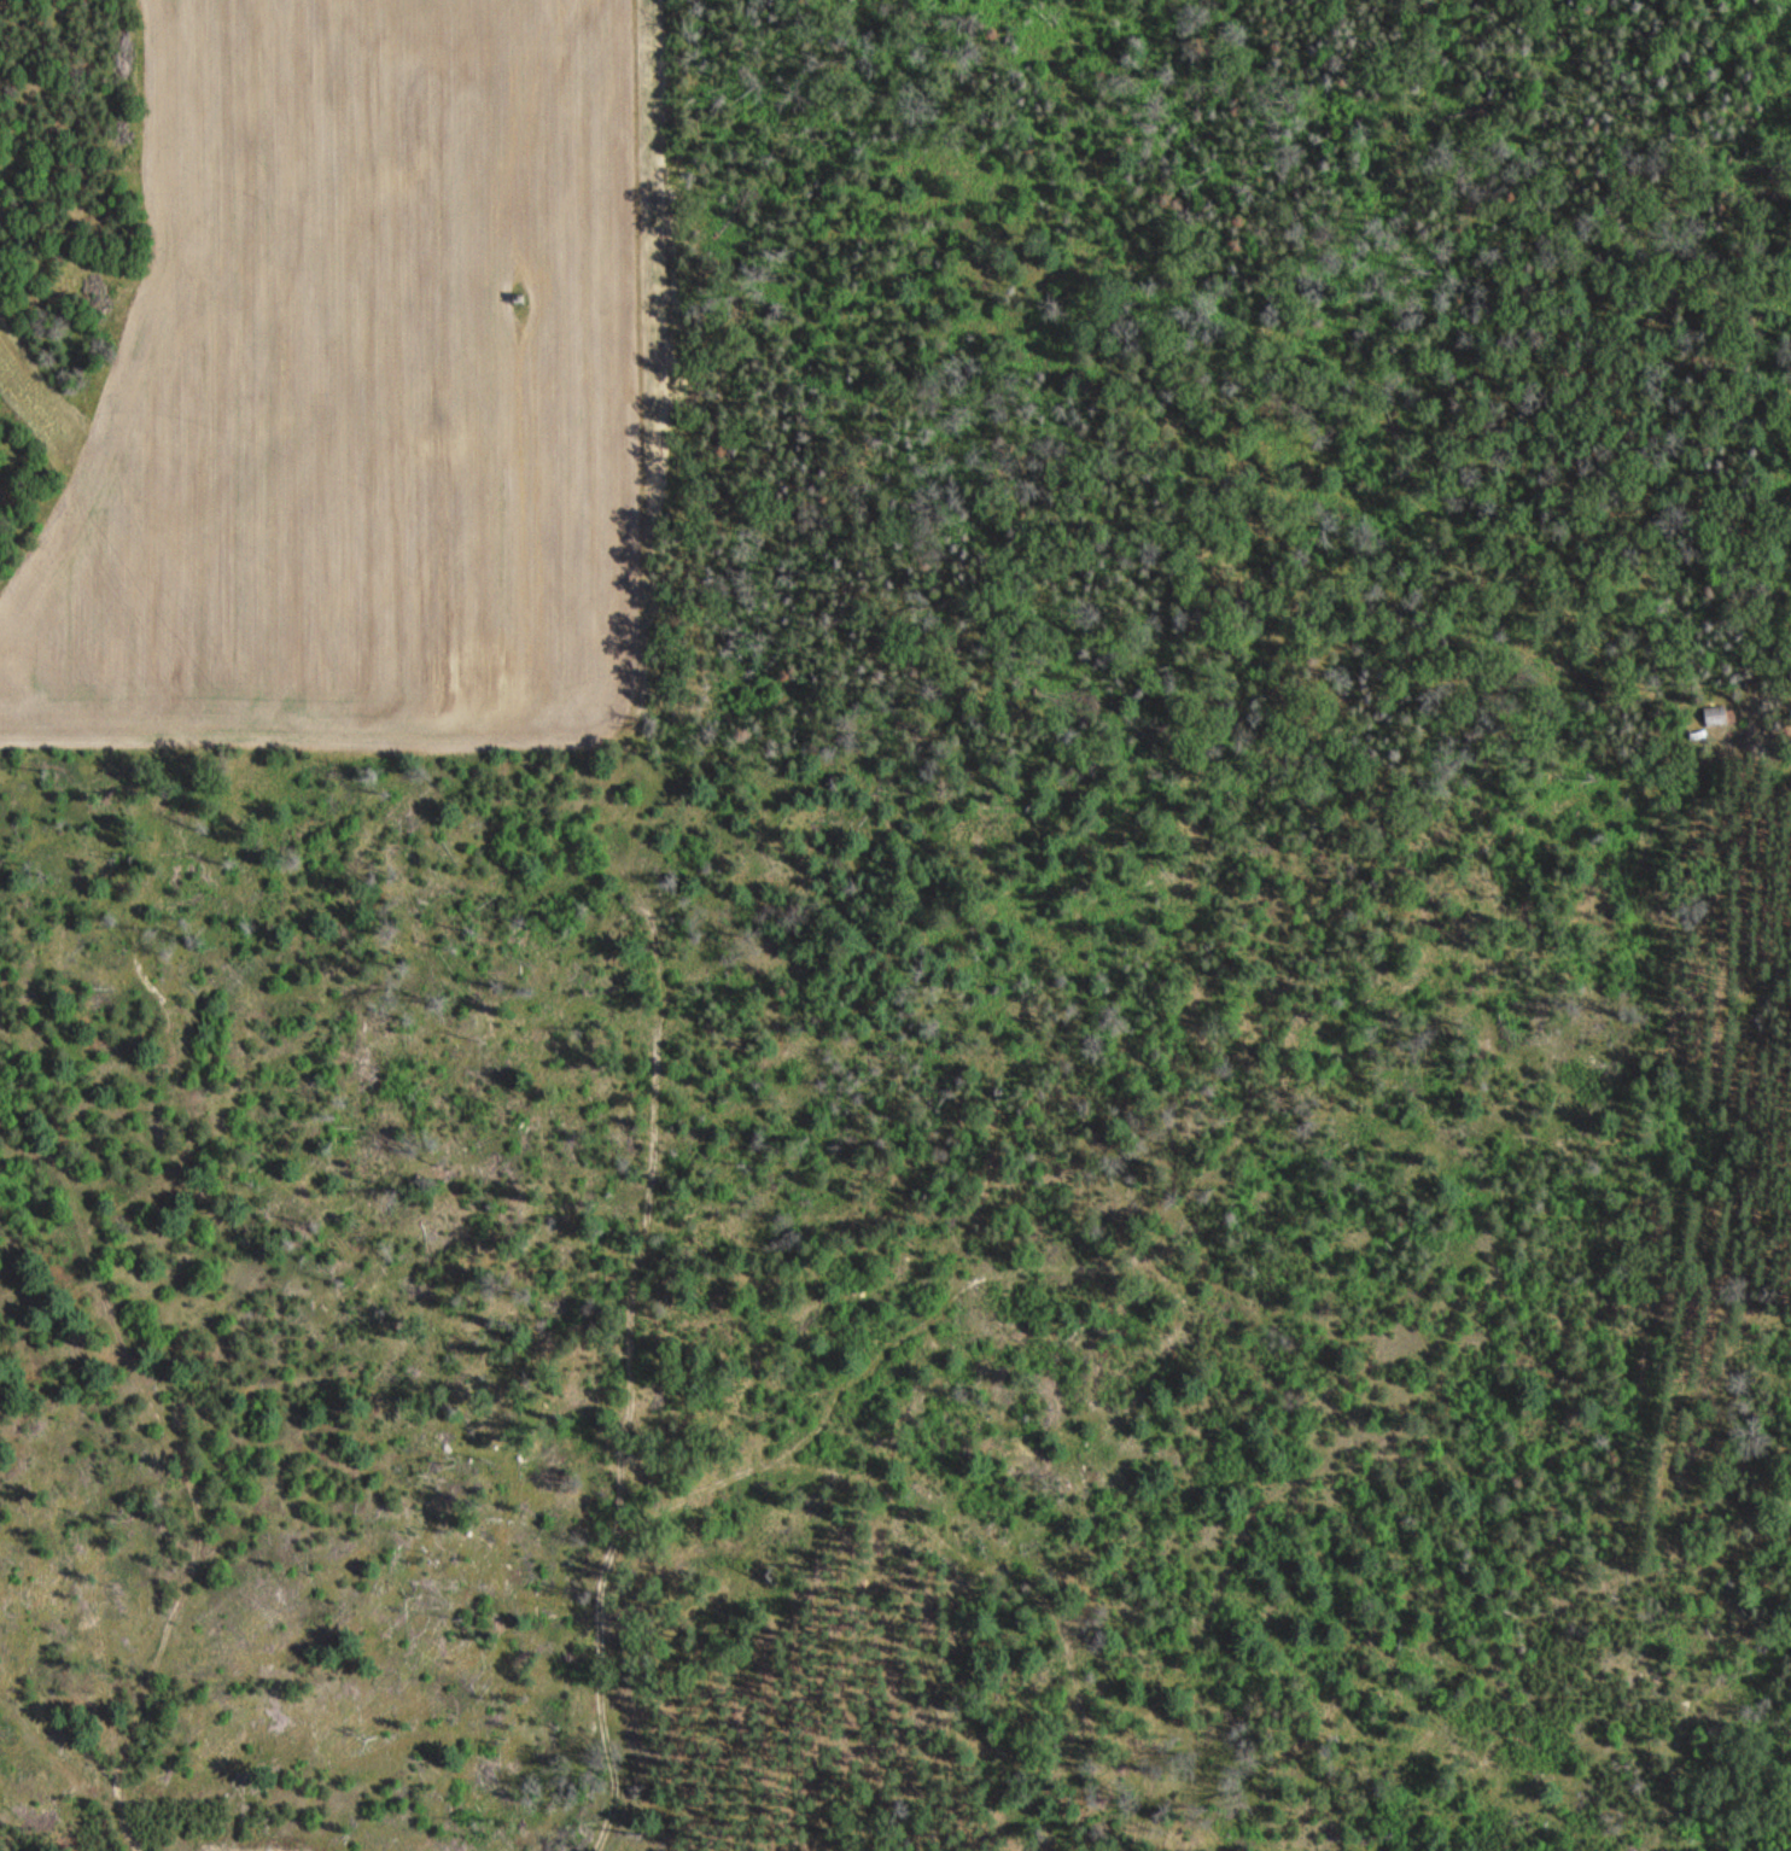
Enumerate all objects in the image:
building: (1719, 717)

